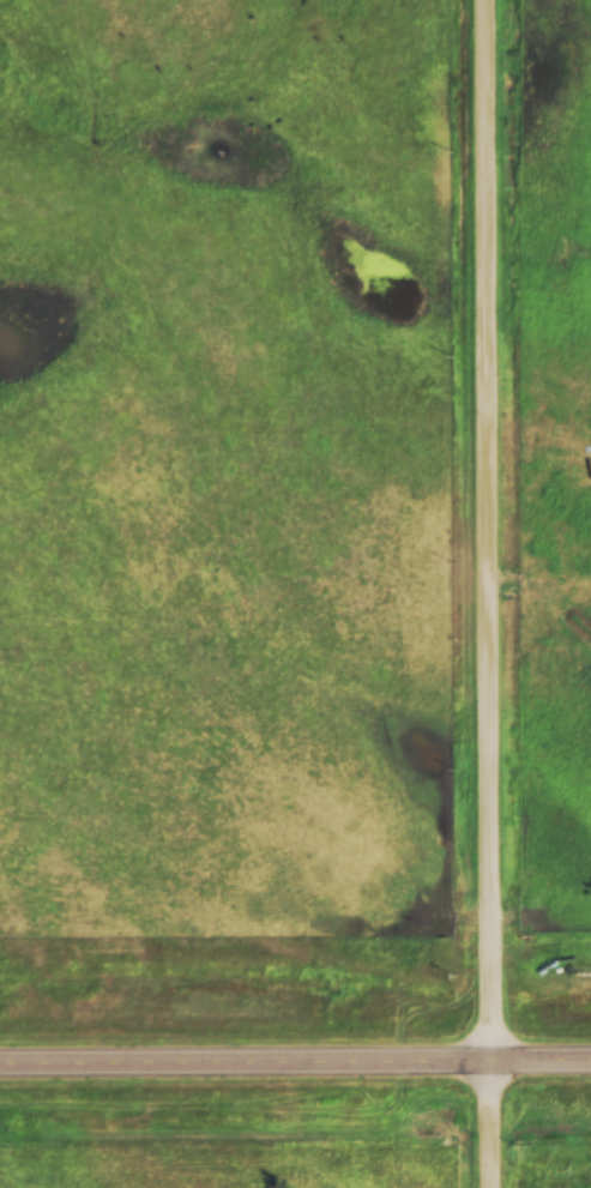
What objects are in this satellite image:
road: (488, 593)
road: (295, 1027)

